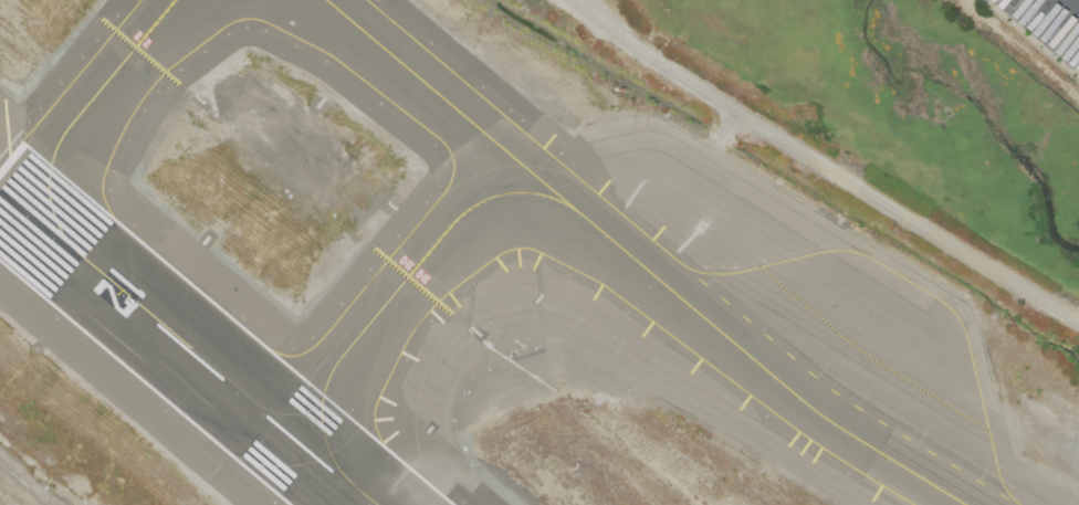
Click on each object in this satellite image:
road: (1064, 12)
airport taxiway: (85, 111)
airport taxiway: (639, 262)
airport: (483, 275)
airport taxiway: (396, 290)
airport runway: (186, 347)

